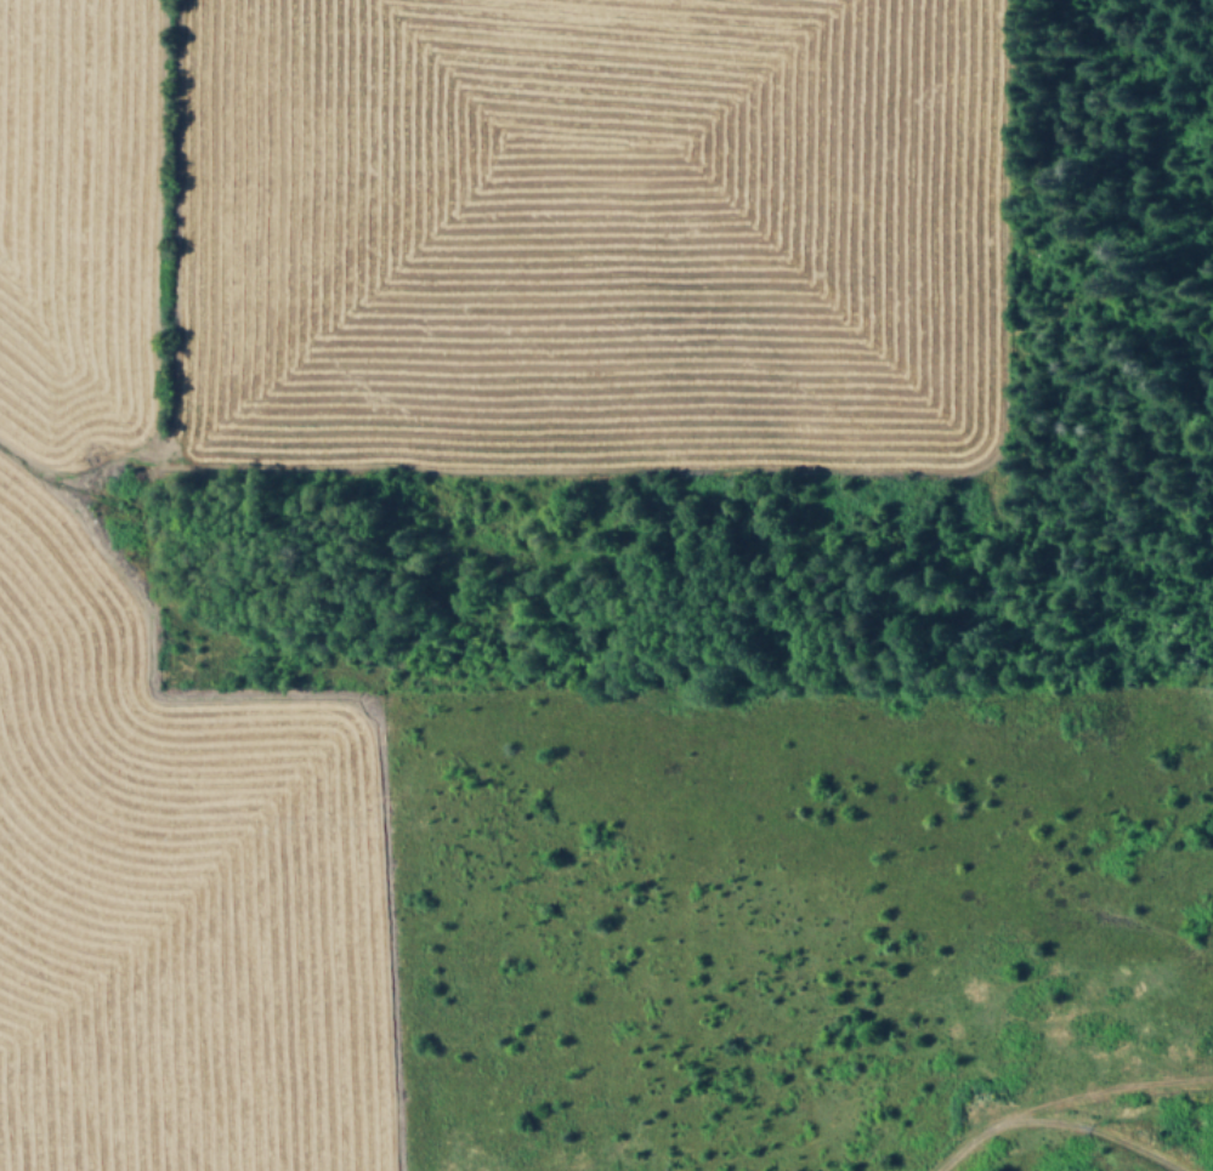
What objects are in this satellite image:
crop: (401, 431)

